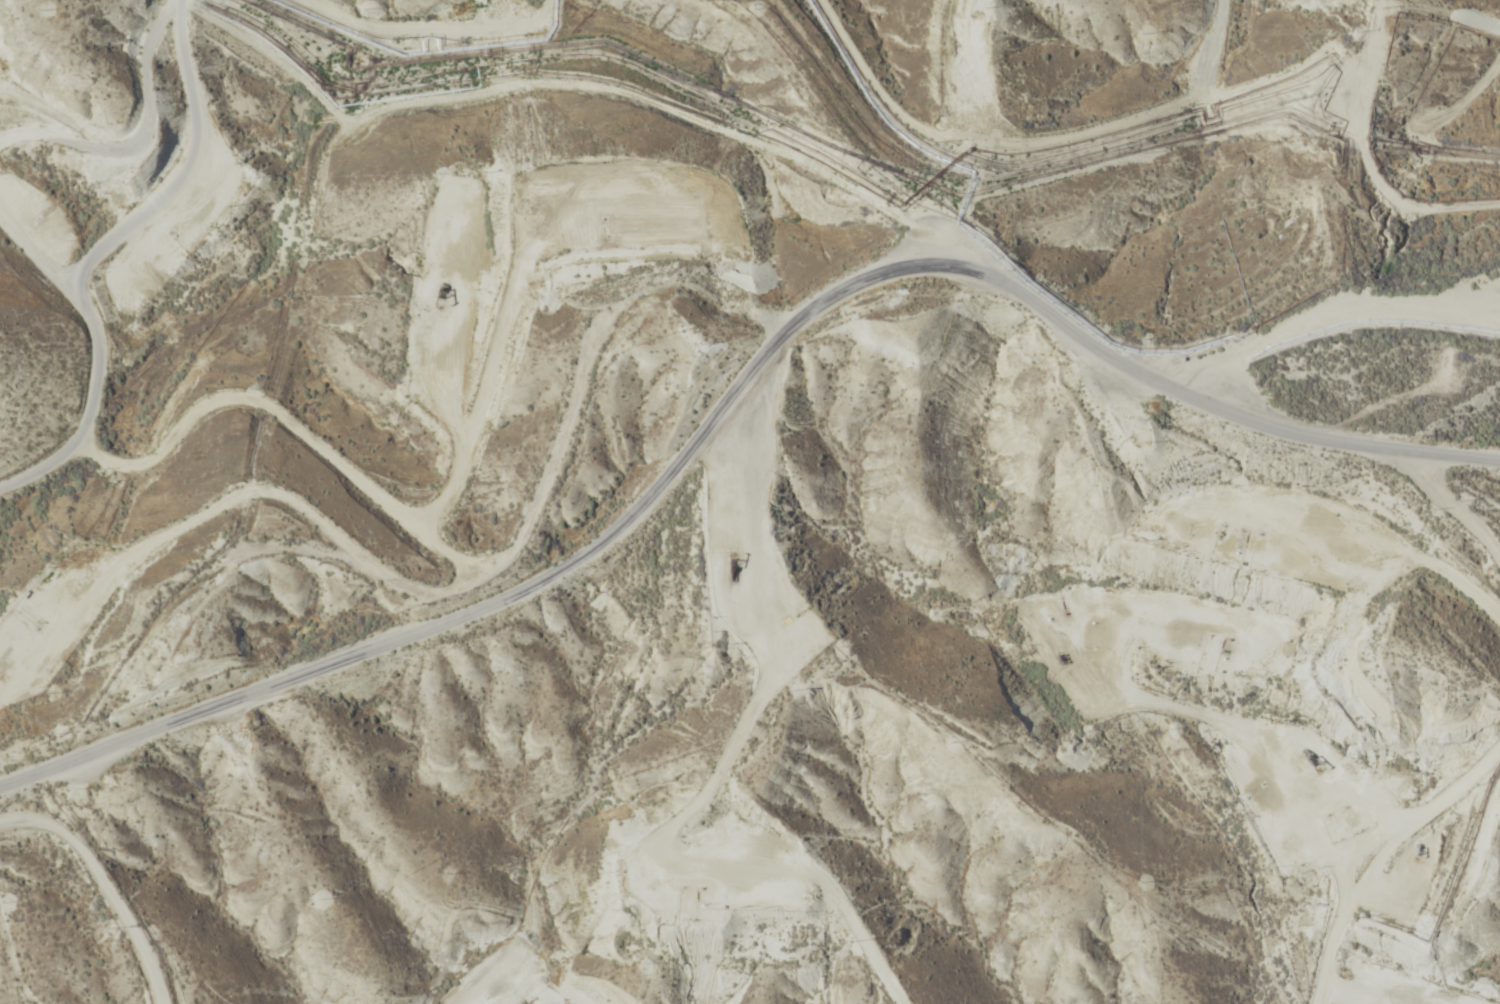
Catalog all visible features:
road: (143, 139)
road: (760, 313)
road: (95, 363)
road: (732, 390)
road: (103, 884)

